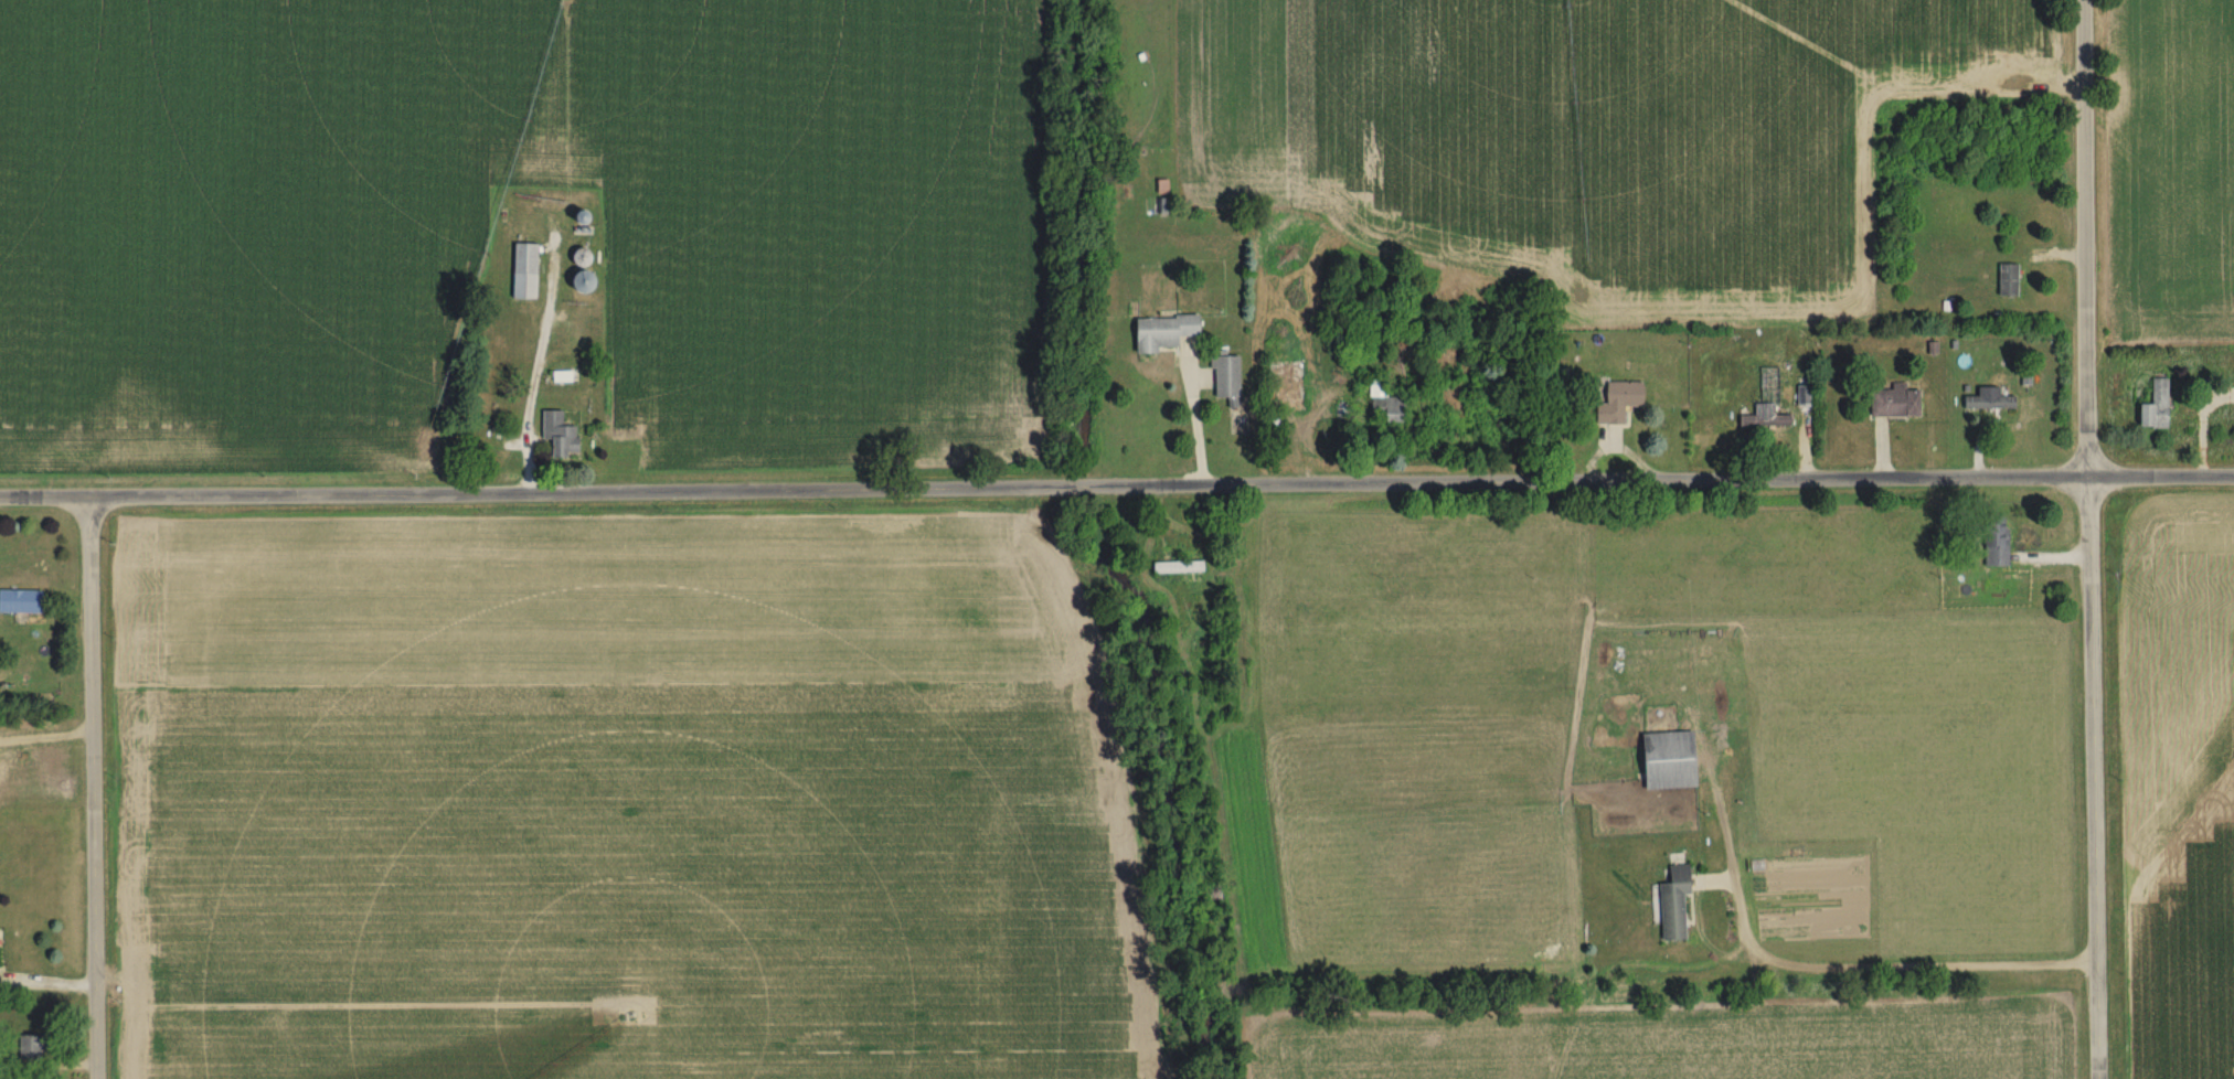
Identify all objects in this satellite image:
building: (522, 273)
building: (2006, 281)
building: (1159, 332)
building: (1224, 380)
building: (1280, 396)
building: (1801, 398)
building: (1987, 402)
building: (1381, 403)
building: (1616, 403)
building: (1893, 403)
building: (2152, 407)
building: (1768, 414)
road: (1193, 421)
building: (556, 437)
road: (1117, 490)
road: (2087, 539)
building: (1992, 543)
building: (1175, 568)
building: (19, 602)
building: (1664, 762)
road: (98, 789)
road: (1732, 879)
building: (1671, 906)
road: (1790, 962)
building: (28, 1050)

